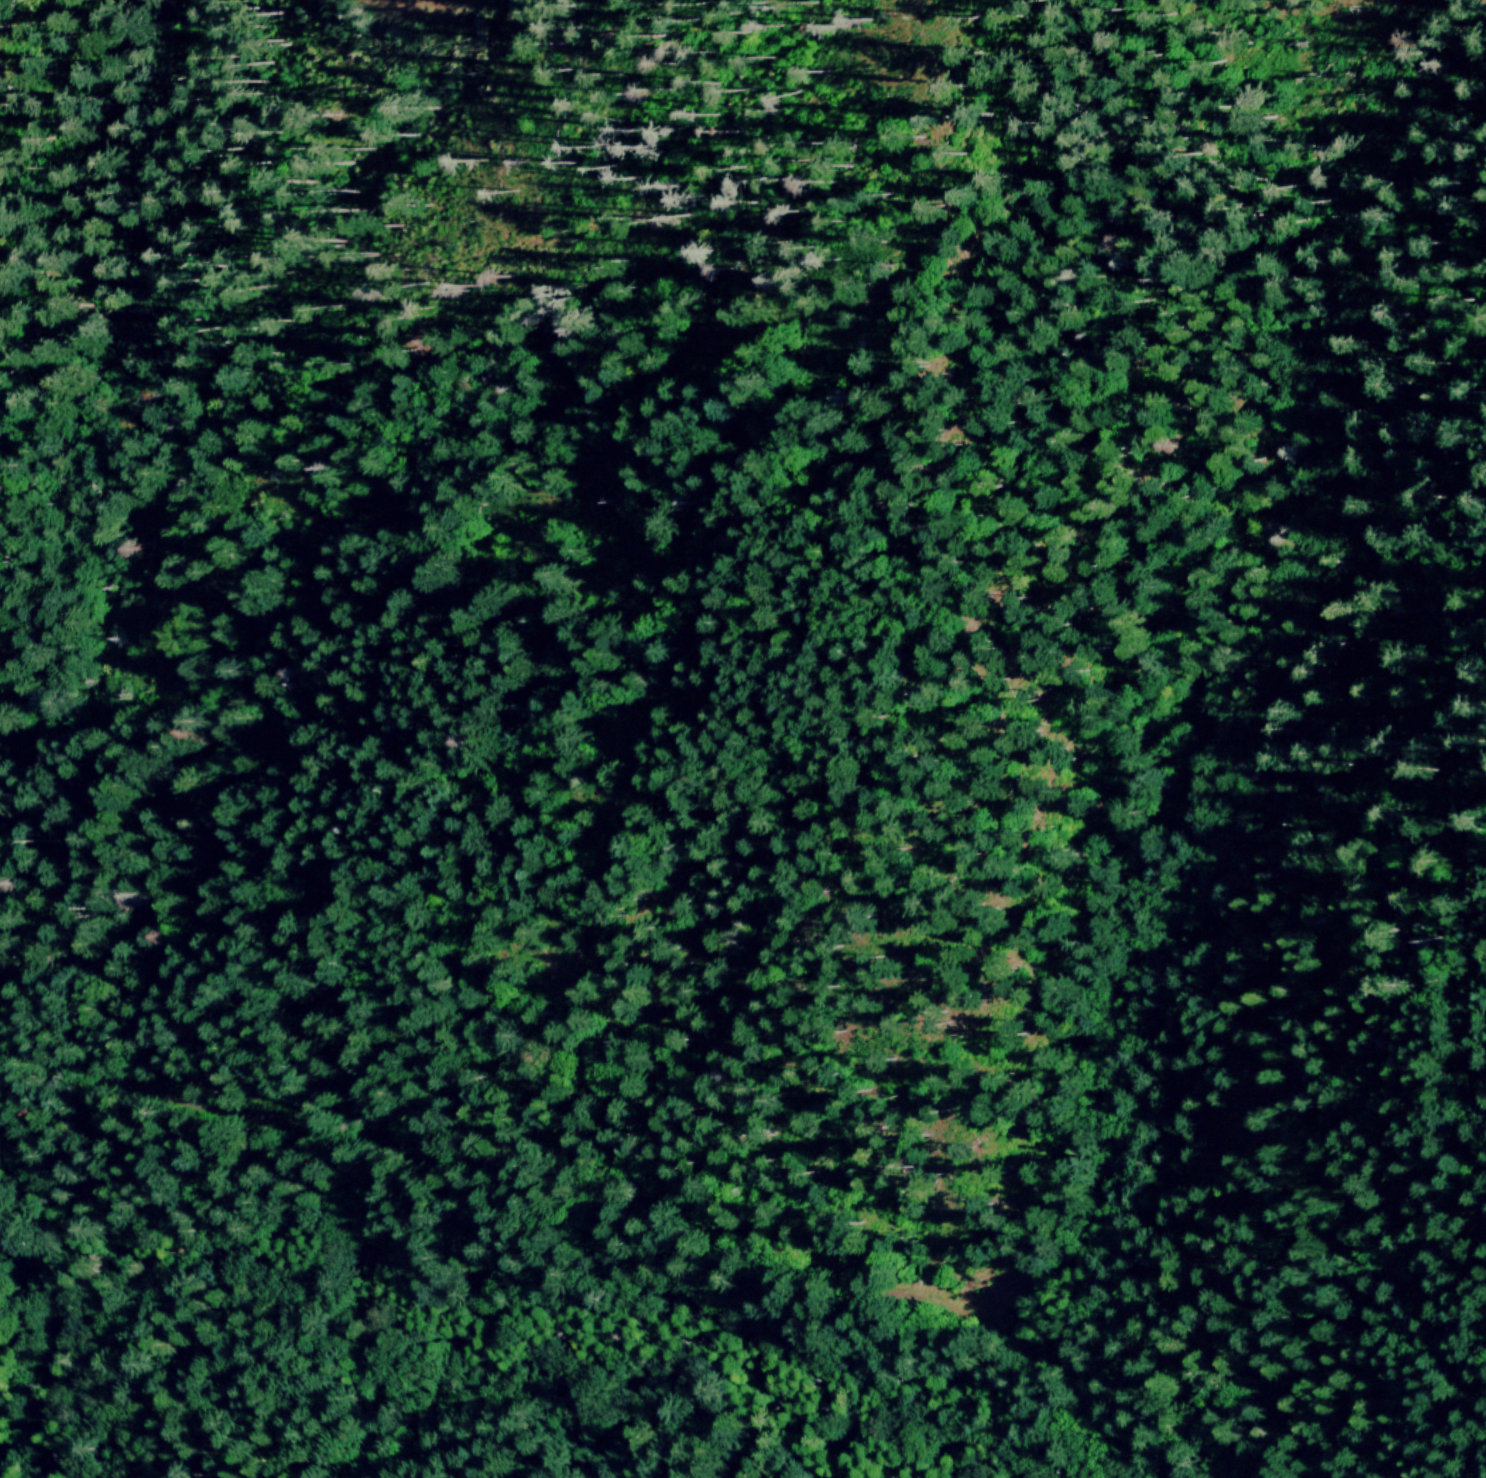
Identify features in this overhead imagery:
road: (638, 1182)

